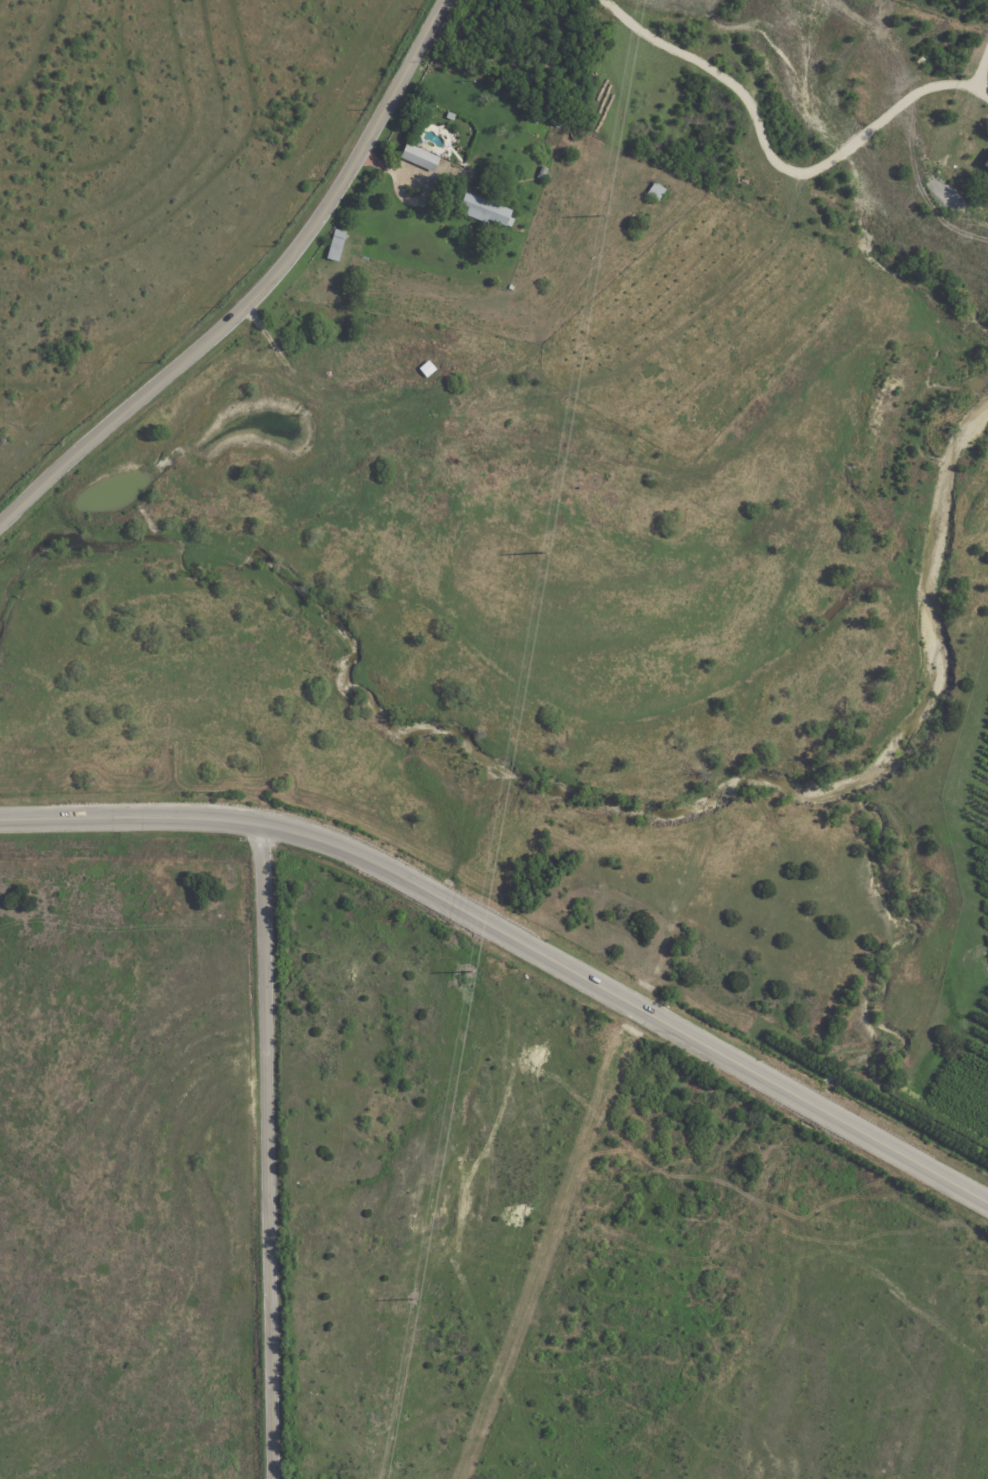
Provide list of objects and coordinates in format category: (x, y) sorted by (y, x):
building: (452, 116)
building: (535, 120)
building: (422, 159)
building: (987, 166)
building: (545, 173)
building: (658, 193)
building: (487, 211)
building: (337, 245)
building: (512, 288)
road: (255, 292)
road: (514, 937)
road: (268, 1152)
road: (637, 1322)
road: (695, 1413)
road: (768, 1462)

